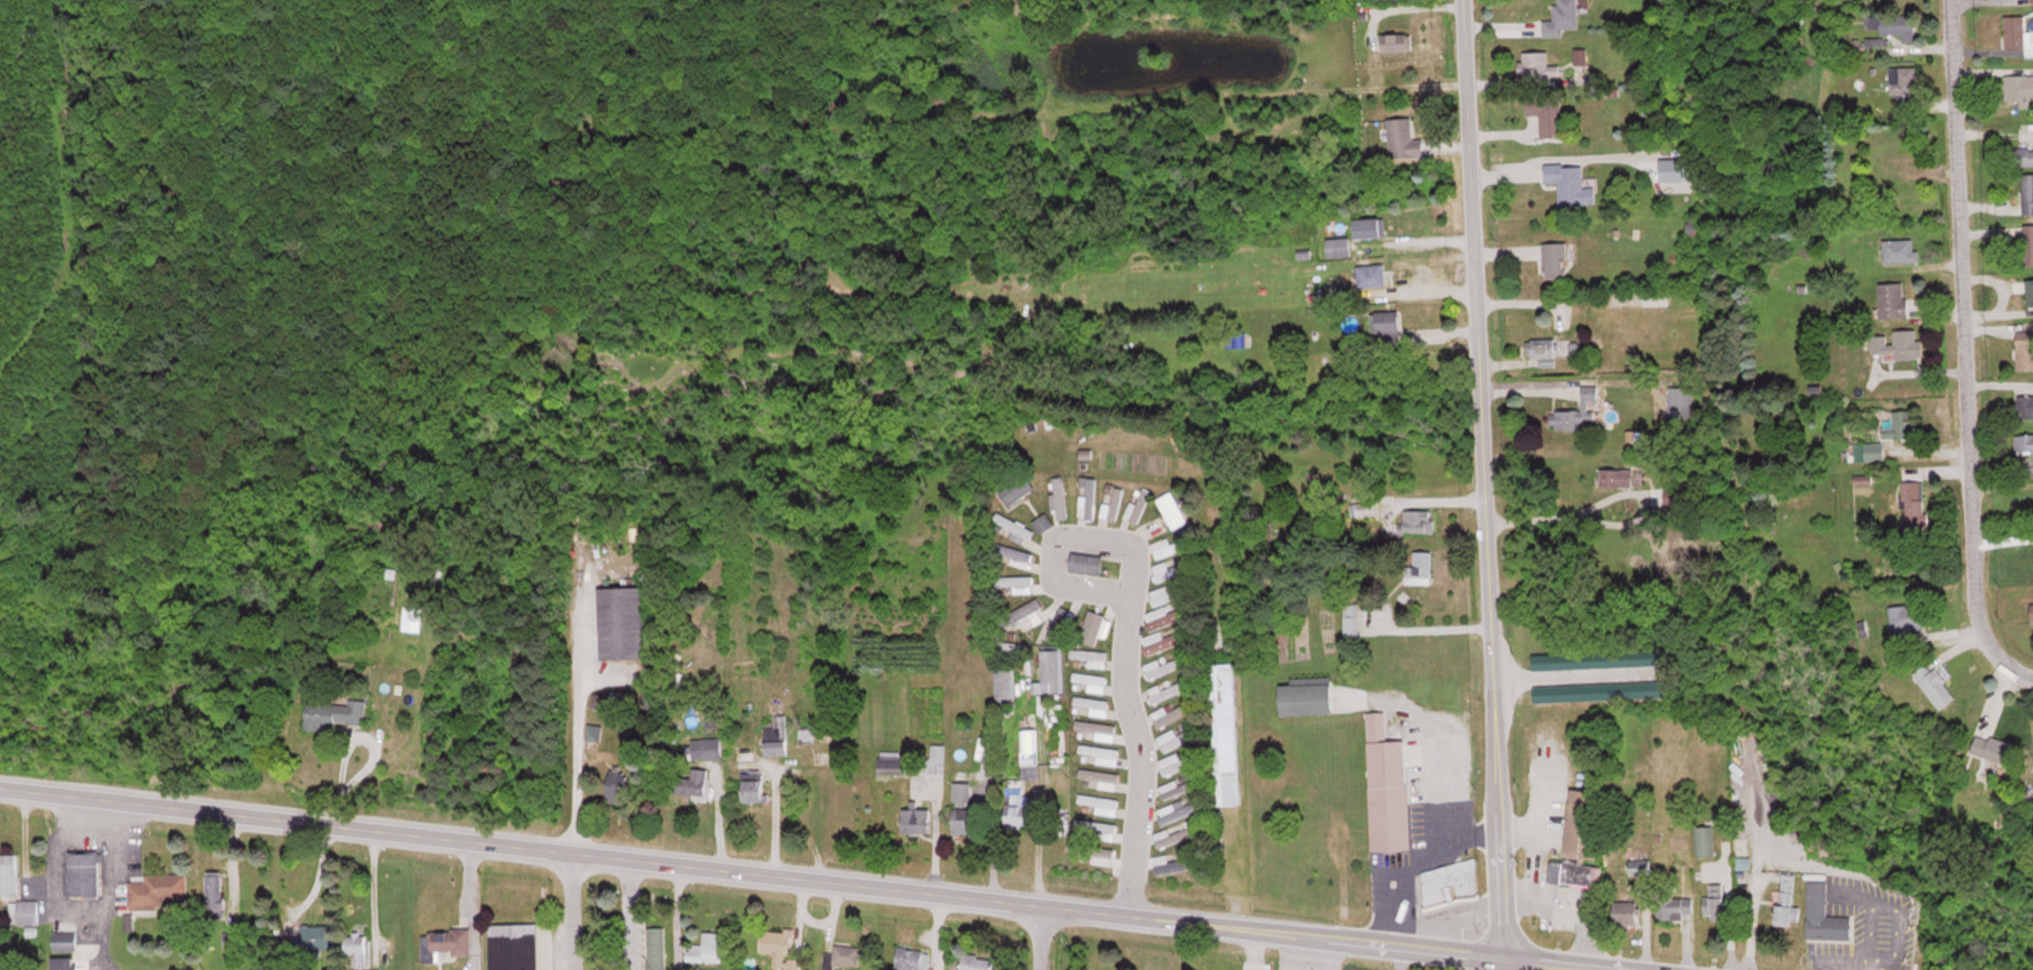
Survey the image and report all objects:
building: (2031, 1)
building: (1561, 18)
building: (1892, 27)
building: (2017, 32)
building: (1396, 41)
building: (1537, 65)
building: (1903, 79)
building: (2019, 88)
building: (1546, 112)
building: (1403, 138)
building: (2022, 156)
building: (1876, 170)
building: (1567, 182)
building: (2027, 193)
building: (1902, 198)
building: (1369, 227)
building: (1338, 247)
building: (1900, 251)
building: (1554, 261)
building: (1371, 275)
building: (2029, 292)
building: (1655, 297)
building: (1892, 299)
building: (1386, 322)
building: (1895, 346)
building: (1552, 347)
building: (2024, 350)
road: (1960, 353)
building: (1680, 401)
building: (2024, 406)
building: (1576, 410)
building: (1901, 424)
building: (2024, 442)
building: (1869, 451)
building: (1617, 476)
road: (1481, 484)
building: (1016, 488)
building: (1087, 497)
building: (1059, 499)
building: (1112, 501)
building: (1914, 504)
building: (1137, 507)
building: (1361, 508)
building: (1172, 509)
building: (1418, 520)
building: (1043, 522)
building: (1014, 528)
building: (1169, 546)
building: (1086, 563)
building: (1419, 568)
building: (1168, 570)
road: (1089, 571)
building: (1014, 583)
building: (1166, 593)
building: (2032, 612)
building: (1027, 615)
building: (413, 618)
building: (1164, 618)
building: (1351, 619)
building: (1907, 621)
building: (622, 622)
building: (1060, 625)
building: (1092, 627)
building: (1164, 641)
building: (1606, 659)
building: (1162, 666)
building: (1052, 671)
building: (1092, 681)
building: (1934, 685)
building: (1005, 687)
building: (1166, 691)
building: (1607, 691)
building: (1323, 698)
building: (1090, 705)
building: (336, 714)
building: (1170, 714)
building: (777, 727)
building: (1098, 729)
building: (594, 732)
building: (1223, 734)
building: (1172, 738)
building: (706, 747)
building: (776, 747)
building: (1997, 749)
building: (1029, 753)
building: (1100, 753)
building: (937, 754)
building: (890, 762)
building: (1172, 763)
building: (1100, 777)
building: (692, 782)
building: (617, 785)
building: (753, 786)
building: (1176, 787)
building: (1387, 787)
building: (961, 791)
road: (1123, 799)
building: (1100, 803)
building: (1017, 807)
building: (1177, 809)
building: (915, 820)
building: (965, 820)
building: (1096, 828)
building: (1173, 835)
building: (1583, 839)
building: (1705, 840)
building: (1100, 854)
building: (1176, 864)
building: (8, 872)
building: (83, 874)
road: (811, 878)
building: (1450, 883)
building: (156, 889)
building: (214, 889)
building: (1715, 900)
building: (1787, 902)
building: (1675, 907)
road: (568, 910)
building: (23, 911)
building: (1626, 912)
road: (83, 914)
building: (1825, 916)
road: (1037, 936)
building: (315, 939)
building: (63, 940)
building: (445, 943)
building: (513, 946)
building: (356, 947)
building: (779, 947)
building: (656, 948)
building: (705, 948)
building: (842, 957)
building: (914, 959)
building: (976, 962)
building: (65, 963)

